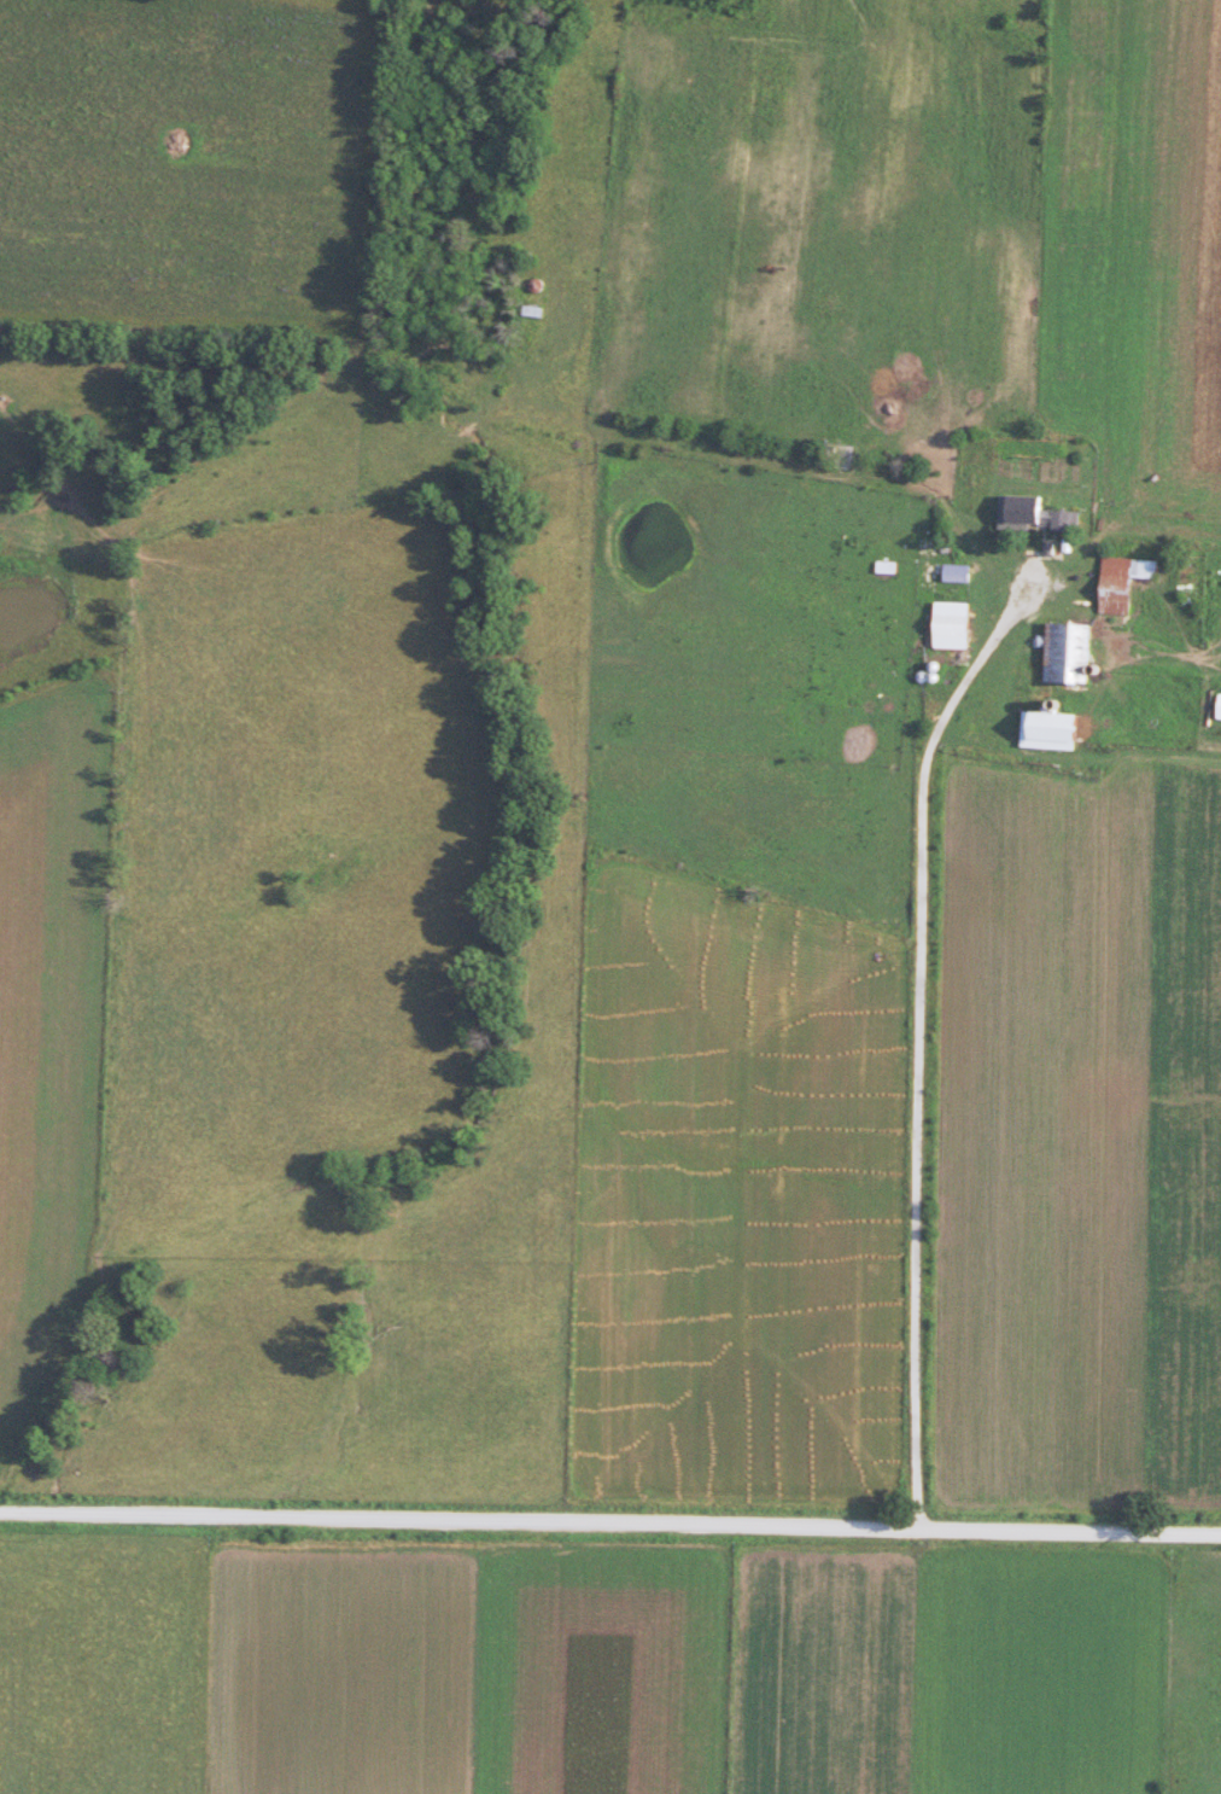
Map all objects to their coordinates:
building: (1035, 514)
building: (912, 546)
building: (887, 567)
building: (956, 572)
building: (950, 625)
building: (1064, 654)
building: (1048, 732)
road: (921, 1047)
road: (609, 1526)

